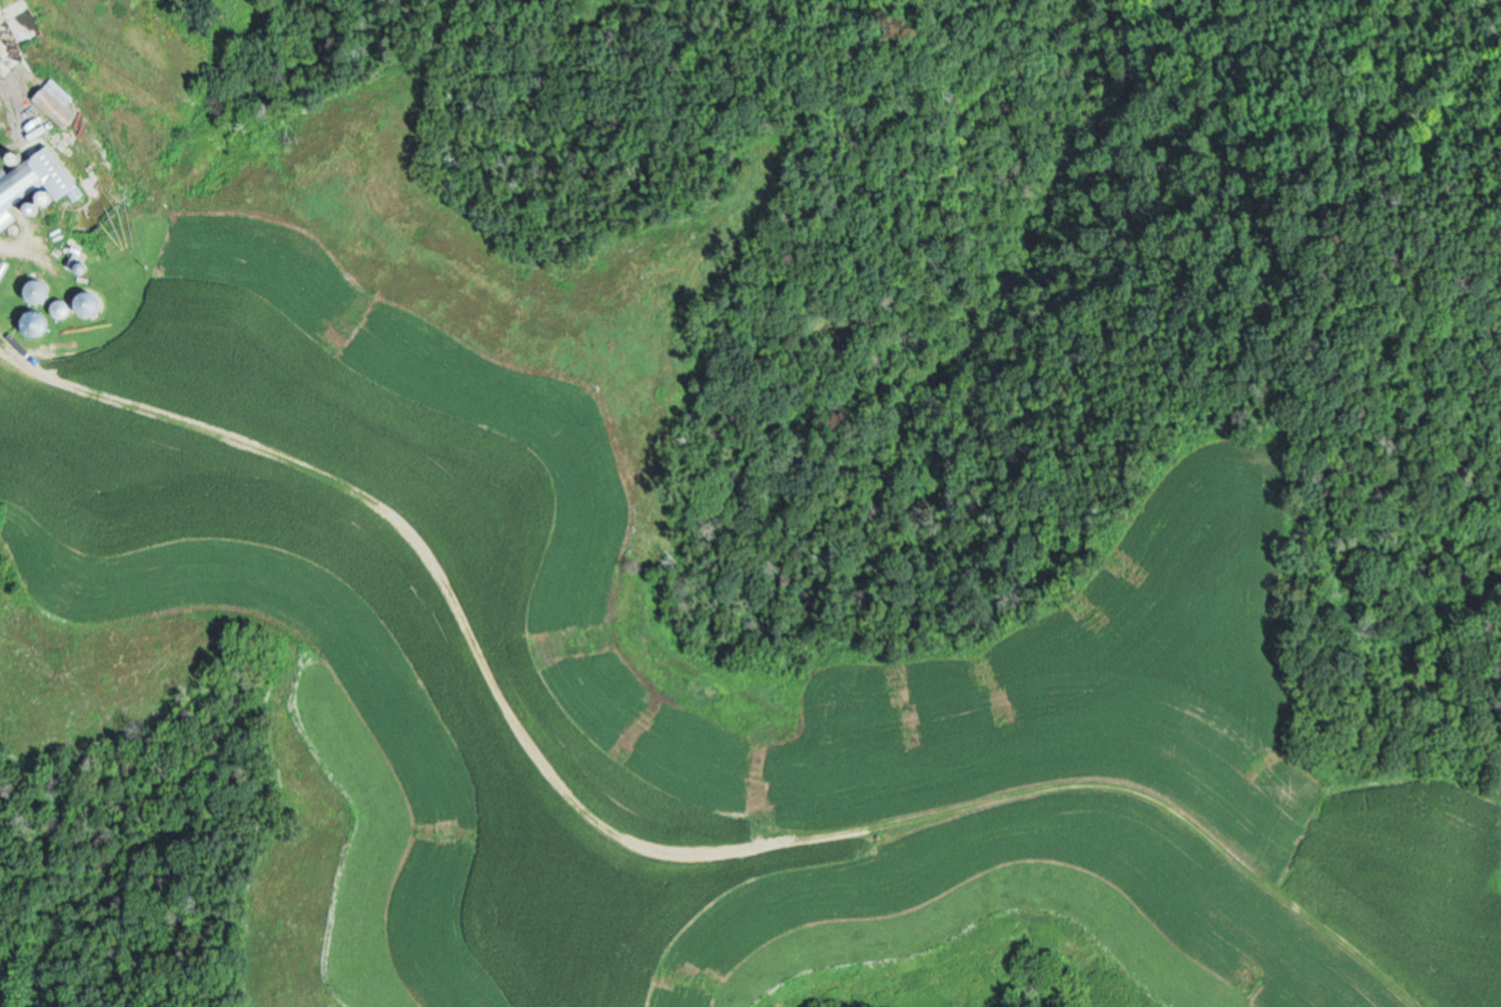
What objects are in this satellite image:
building: (0, 67)
building: (57, 103)
building: (33, 181)
building: (36, 290)

